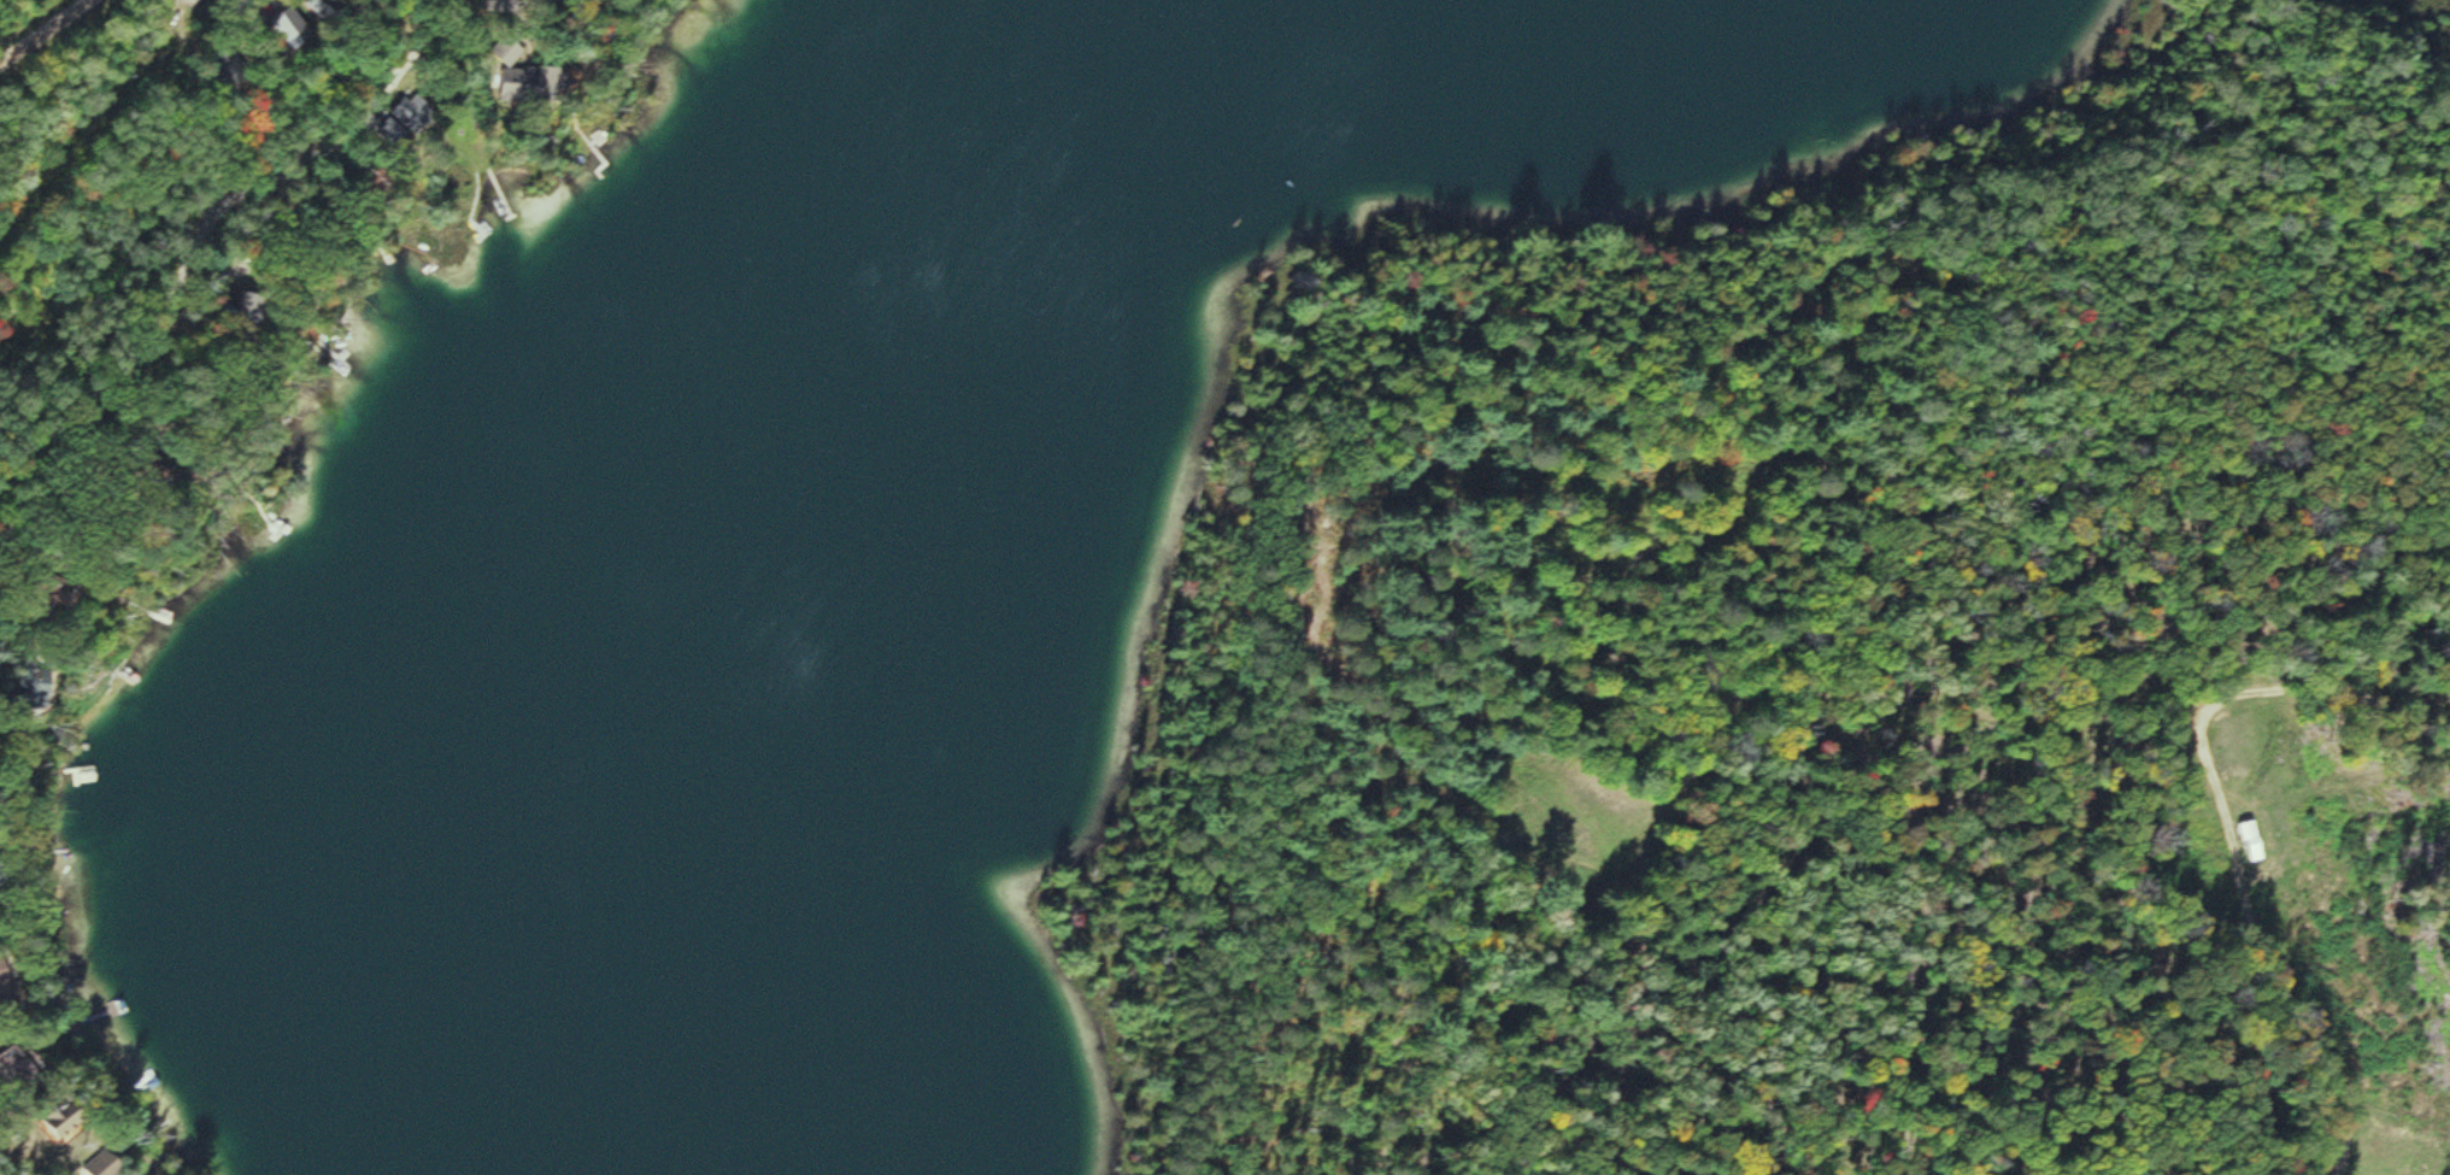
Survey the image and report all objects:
building: (333, 8)
building: (298, 30)
road: (47, 34)
building: (530, 77)
building: (417, 114)
road: (243, 241)
road: (2187, 601)
building: (43, 689)
road: (2314, 697)
building: (2244, 839)
building: (10, 988)
building: (20, 1067)
building: (70, 1120)
building: (114, 1165)

